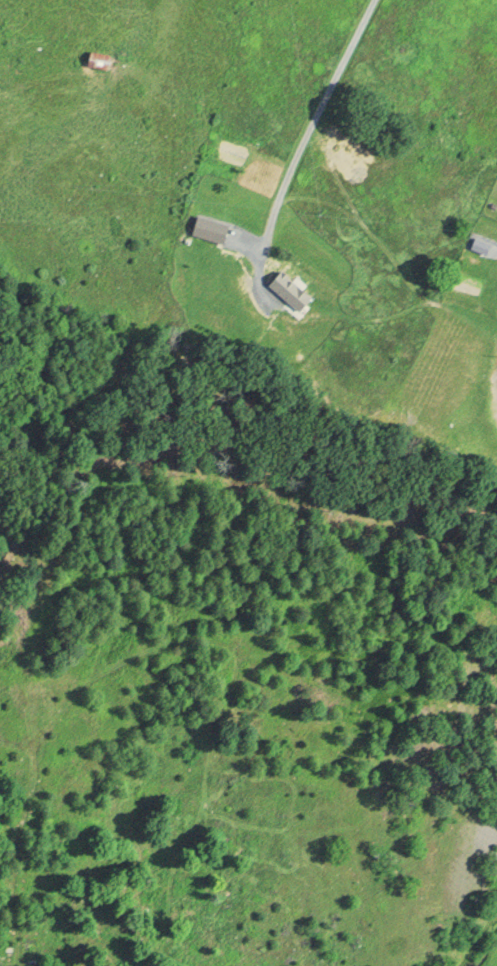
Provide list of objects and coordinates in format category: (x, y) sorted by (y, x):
building: (94, 60)
road: (309, 129)
building: (288, 292)

